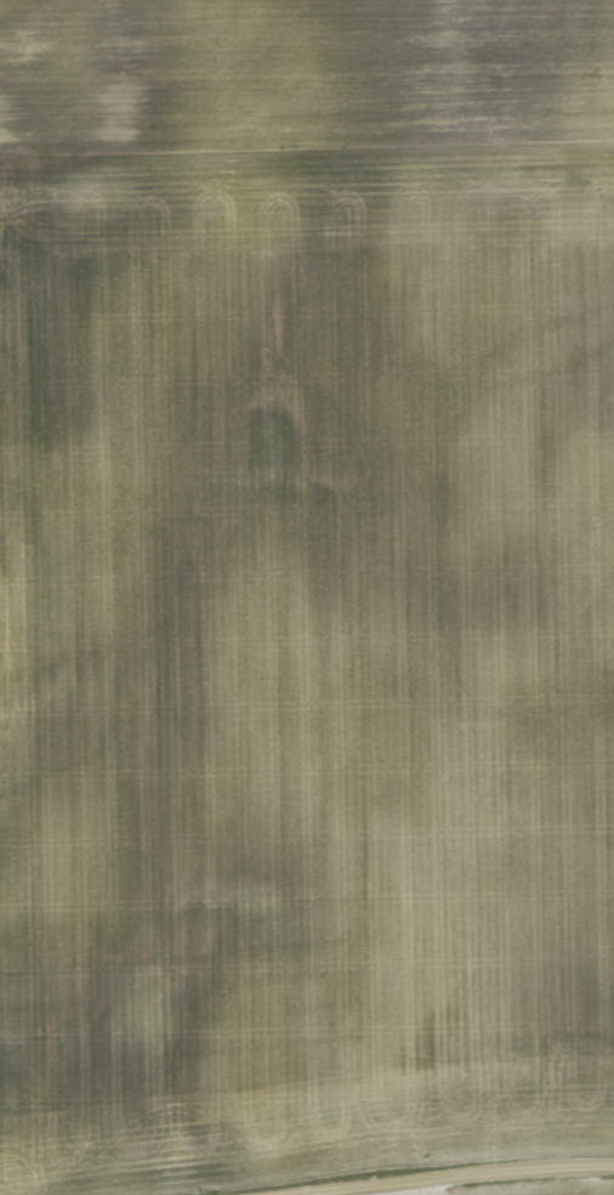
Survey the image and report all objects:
road: (508, 1182)

